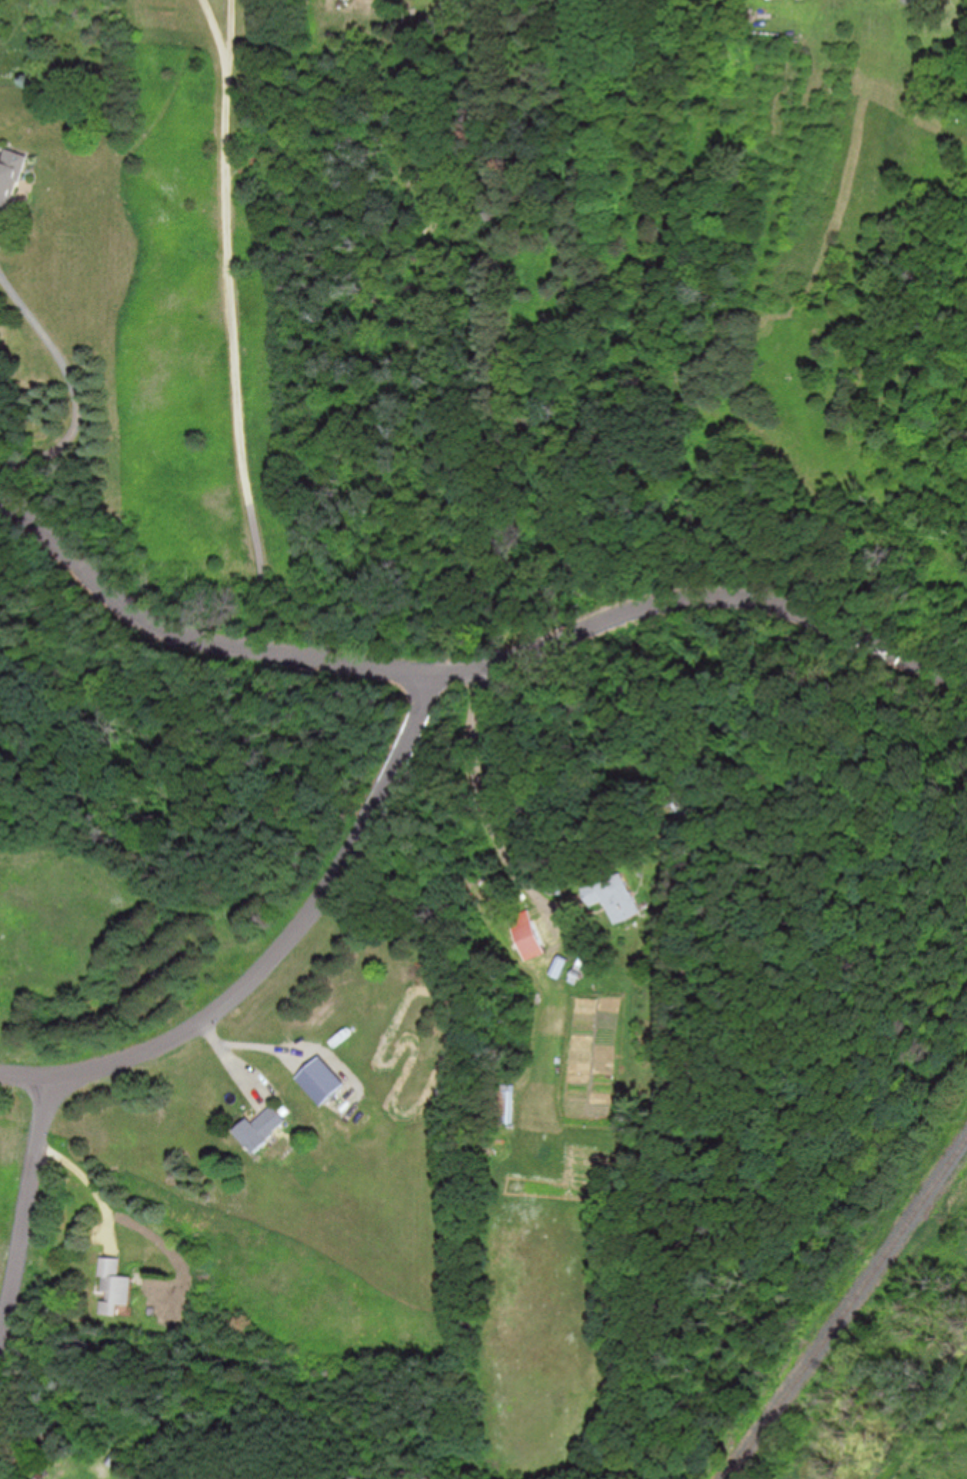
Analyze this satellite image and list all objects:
road: (228, 59)
building: (11, 174)
road: (232, 356)
road: (75, 390)
road: (470, 664)
road: (486, 798)
building: (615, 896)
road: (298, 928)
building: (526, 934)
building: (559, 966)
road: (26, 1076)
building: (323, 1079)
building: (508, 1103)
building: (263, 1127)
road: (88, 1183)
road: (27, 1209)
building: (115, 1283)
railway: (847, 1311)

